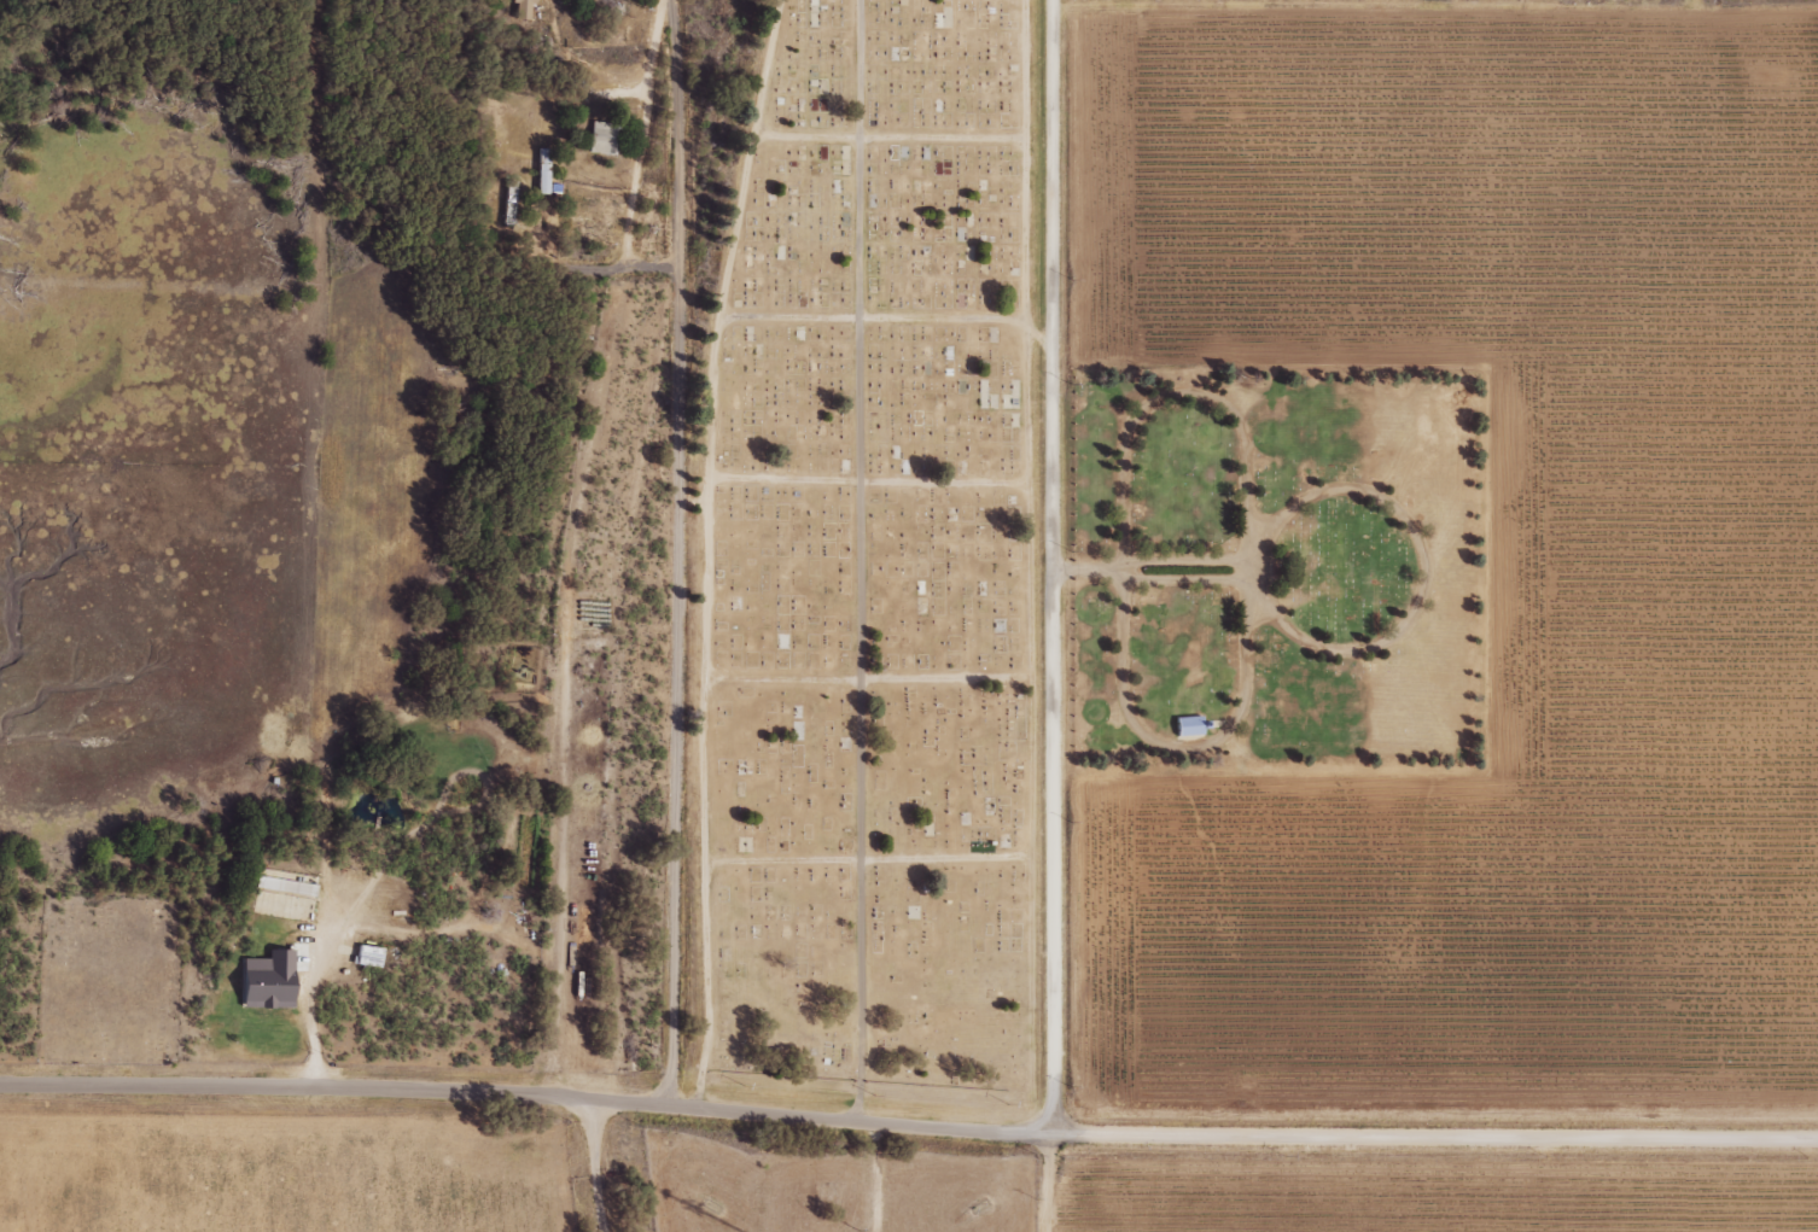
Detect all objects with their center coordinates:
building: (521, 8)
road: (663, 8)
building: (602, 138)
road: (899, 144)
building: (541, 171)
road: (1035, 177)
road: (882, 325)
road: (887, 486)
road: (722, 554)
park: (874, 559)
road: (870, 561)
road: (1204, 564)
road: (676, 565)
road: (1054, 566)
road: (1096, 574)
park: (1287, 574)
road: (1204, 585)
railway: (635, 612)
road: (1387, 653)
road: (887, 685)
building: (1185, 726)
building: (1202, 728)
road: (1177, 751)
road: (886, 865)
building: (285, 887)
park: (111, 980)
building: (264, 981)
road: (908, 1125)
road: (1053, 1183)

